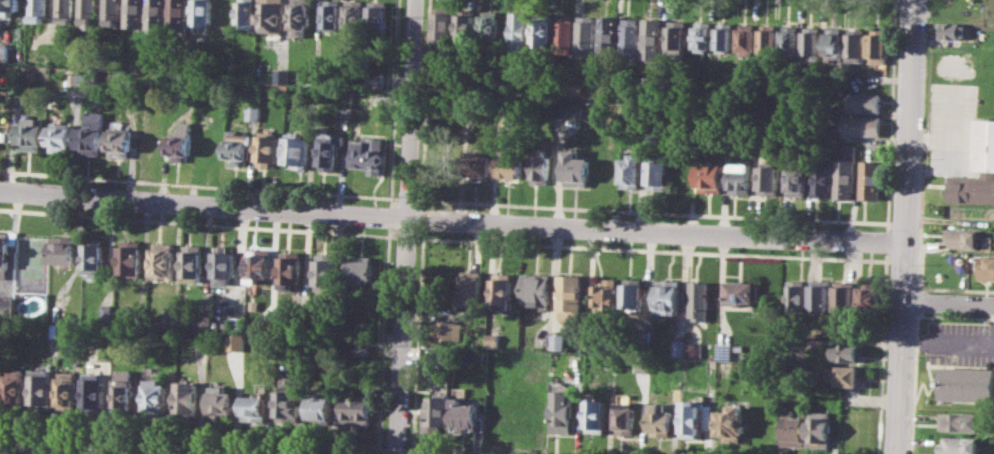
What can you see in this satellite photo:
building: (9, 6)
building: (37, 10)
building: (64, 11)
building: (110, 12)
building: (86, 13)
building: (134, 13)
building: (156, 13)
building: (179, 13)
building: (201, 13)
building: (246, 13)
building: (331, 14)
building: (353, 15)
building: (376, 15)
building: (270, 16)
building: (298, 17)
building: (465, 23)
building: (443, 24)
building: (489, 25)
building: (542, 30)
building: (952, 30)
building: (517, 31)
building: (563, 31)
building: (607, 34)
building: (585, 35)
building: (701, 36)
building: (723, 36)
building: (630, 37)
building: (746, 38)
building: (767, 38)
building: (676, 39)
building: (789, 39)
building: (811, 40)
building: (651, 42)
building: (833, 43)
building: (4, 45)
building: (856, 45)
building: (877, 46)
building: (279, 75)
building: (85, 78)
building: (371, 79)
building: (862, 102)
road: (393, 103)
road: (424, 103)
building: (201, 107)
building: (563, 108)
building: (251, 112)
road: (890, 115)
building: (860, 125)
parking lot: (952, 128)
building: (30, 133)
building: (92, 133)
building: (60, 135)
road: (953, 138)
building: (180, 140)
building: (120, 142)
building: (209, 145)
building: (238, 147)
building: (267, 147)
building: (298, 150)
building: (330, 150)
building: (367, 153)
road: (933, 155)
building: (475, 166)
building: (539, 167)
building: (509, 168)
building: (977, 168)
building: (575, 169)
road: (936, 170)
building: (630, 171)
building: (845, 172)
building: (656, 173)
building: (740, 174)
building: (709, 177)
building: (822, 177)
building: (797, 178)
building: (768, 179)
building: (871, 179)
road: (198, 184)
road: (406, 199)
road: (651, 210)
road: (389, 216)
road: (421, 218)
road: (452, 220)
road: (197, 222)
road: (406, 227)
road: (906, 227)
road: (405, 237)
building: (963, 238)
road: (886, 241)
building: (63, 249)
road: (652, 249)
building: (7, 250)
building: (94, 258)
building: (130, 258)
building: (163, 260)
building: (192, 260)
road: (903, 261)
building: (258, 264)
building: (224, 265)
building: (986, 267)
building: (289, 268)
building: (359, 270)
building: (326, 271)
road: (920, 273)
building: (501, 288)
building: (469, 289)
building: (534, 290)
building: (741, 292)
building: (567, 295)
building: (605, 295)
building: (631, 295)
building: (796, 295)
building: (820, 295)
building: (845, 296)
building: (666, 297)
building: (869, 297)
building: (697, 300)
road: (919, 300)
road: (949, 303)
building: (105, 313)
building: (201, 322)
building: (237, 323)
building: (446, 331)
building: (492, 339)
road: (383, 340)
building: (590, 340)
building: (234, 341)
road: (417, 341)
building: (557, 341)
building: (643, 341)
road: (948, 341)
parking lot: (959, 342)
building: (677, 347)
building: (360, 349)
building: (692, 350)
building: (722, 350)
building: (848, 351)
road: (882, 353)
building: (640, 365)
building: (844, 376)
building: (0, 381)
road: (914, 382)
building: (966, 383)
building: (15, 386)
building: (42, 388)
building: (67, 388)
building: (125, 389)
building: (95, 391)
building: (156, 395)
building: (187, 397)
building: (221, 401)
building: (287, 405)
building: (254, 408)
building: (319, 408)
building: (355, 408)
building: (561, 411)
building: (436, 415)
building: (594, 415)
building: (464, 417)
building: (625, 418)
building: (658, 418)
building: (694, 418)
building: (960, 421)
building: (730, 424)
building: (818, 428)
building: (792, 429)
road: (192, 438)
building: (960, 445)
road: (72, 449)
road: (395, 450)
road: (442, 452)

